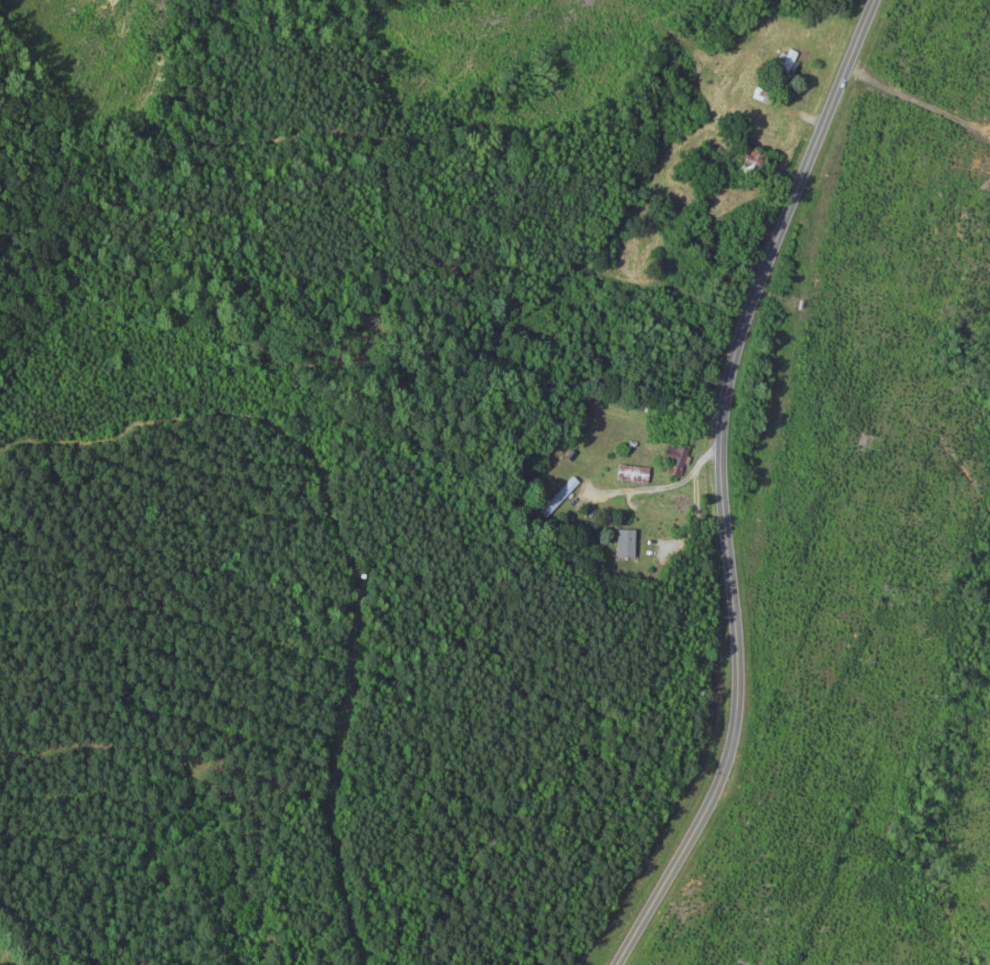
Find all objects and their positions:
building: (785, 67)
building: (678, 457)
building: (638, 475)
road: (724, 484)
building: (561, 498)
building: (629, 544)

